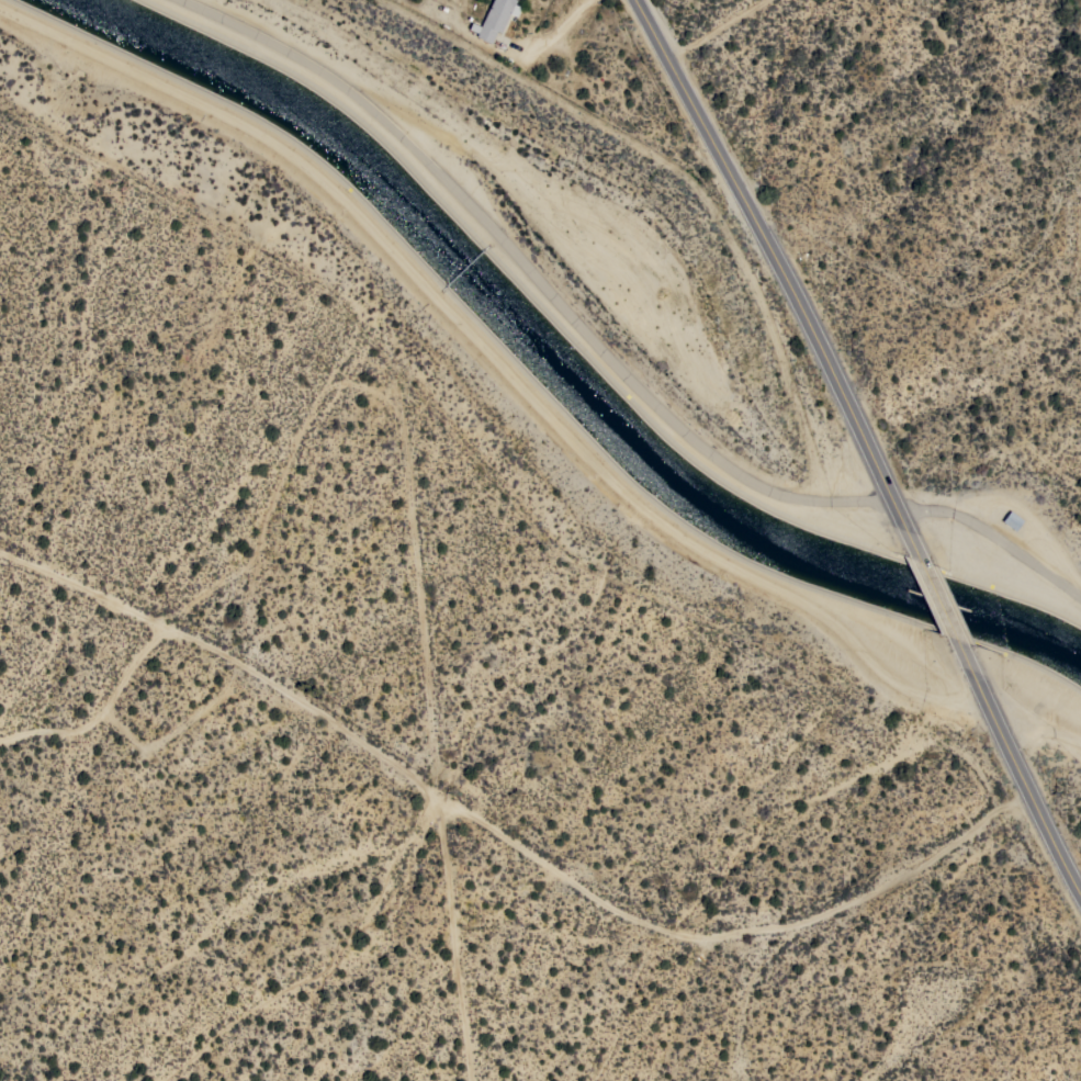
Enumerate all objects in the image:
building: (495, 18)
road: (500, 48)
road: (789, 275)
road: (949, 619)
road: (1026, 782)
road: (609, 905)

